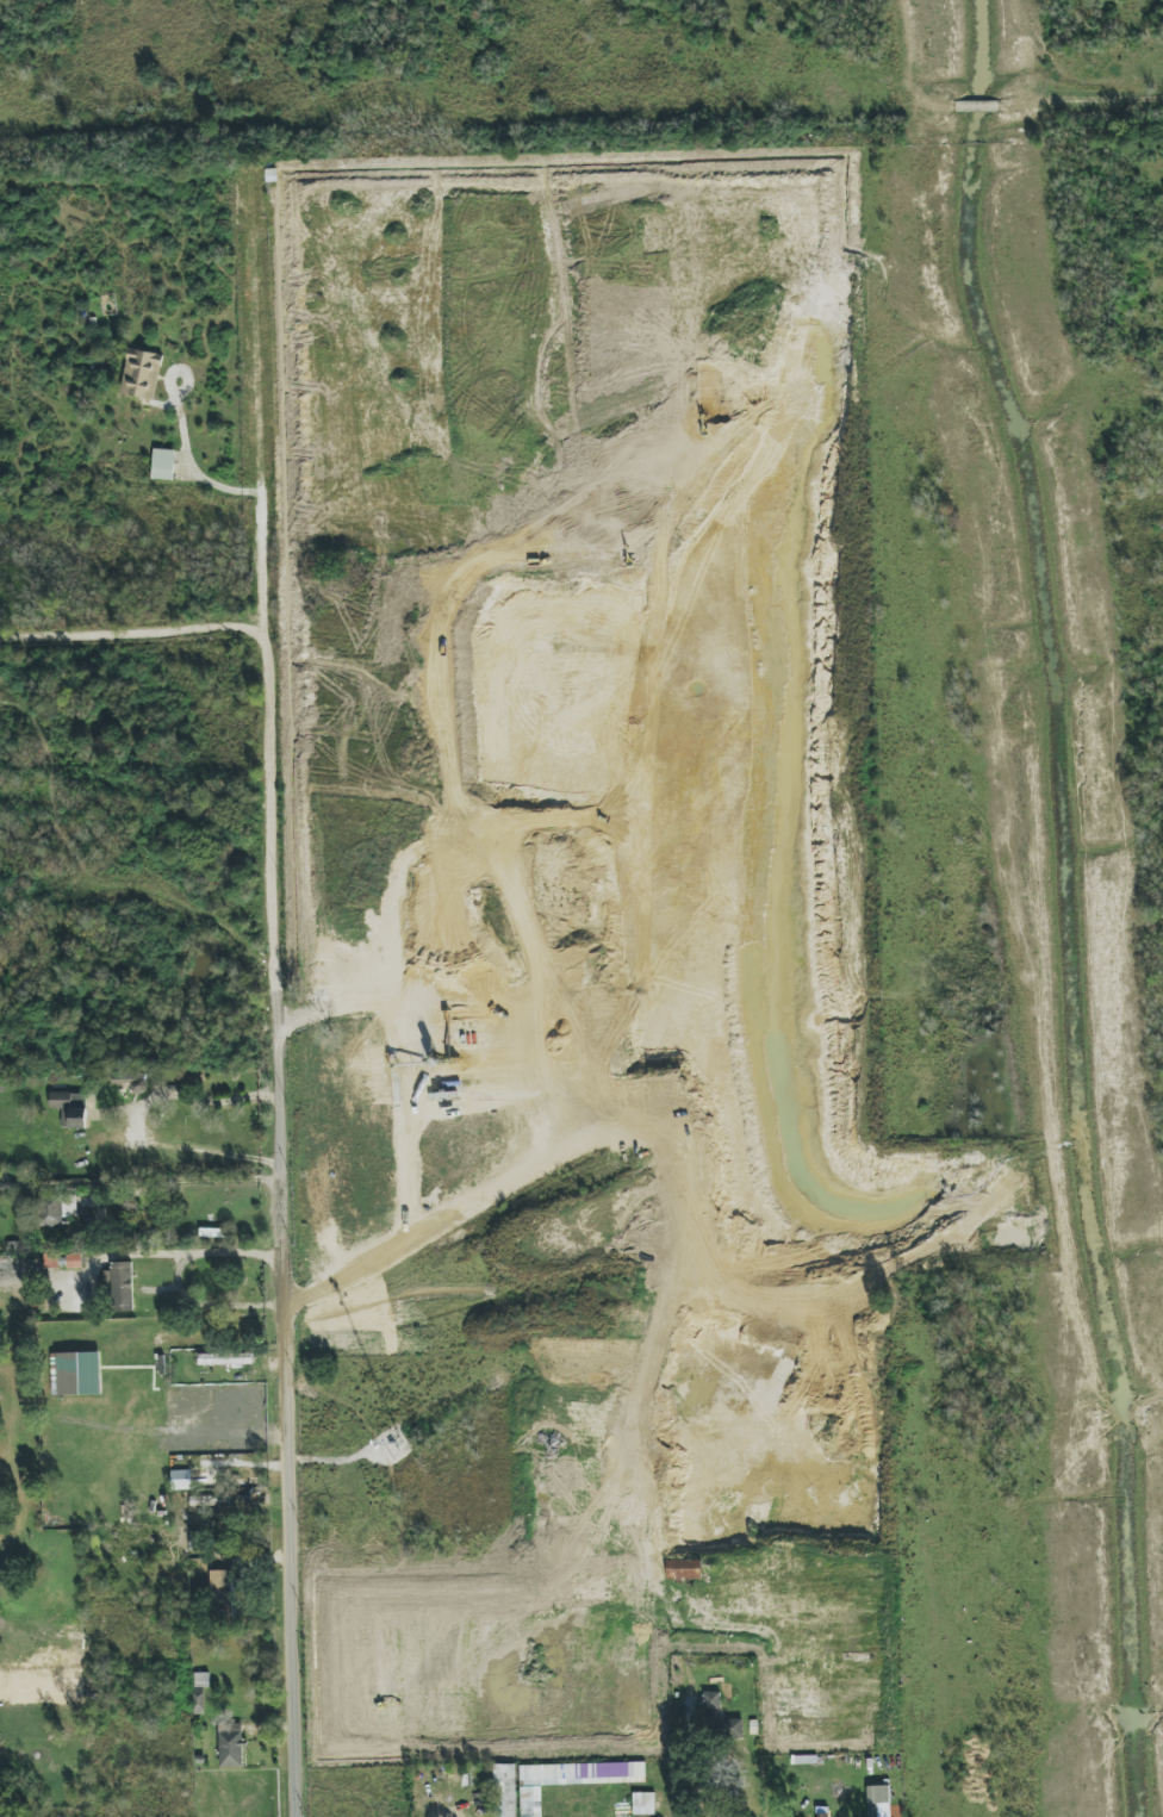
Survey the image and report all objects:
road: (974, 106)
building: (141, 373)
road: (184, 436)
building: (163, 465)
road: (132, 633)
road: (275, 996)
road: (138, 1071)
building: (130, 1079)
building: (70, 1108)
road: (136, 1122)
road: (188, 1181)
building: (56, 1209)
road: (450, 1228)
road: (136, 1255)
building: (123, 1286)
road: (210, 1303)
building: (225, 1358)
building: (76, 1374)
road: (1122, 1436)
building: (684, 1461)
building: (181, 1480)
building: (684, 1569)
building: (222, 1592)
building: (75, 1668)
road: (111, 1674)
building: (198, 1700)
building: (713, 1700)
road: (679, 1713)
building: (732, 1728)
building: (231, 1744)
building: (552, 1772)
building: (505, 1790)
building: (877, 1798)
building: (643, 1799)
road: (428, 1802)

